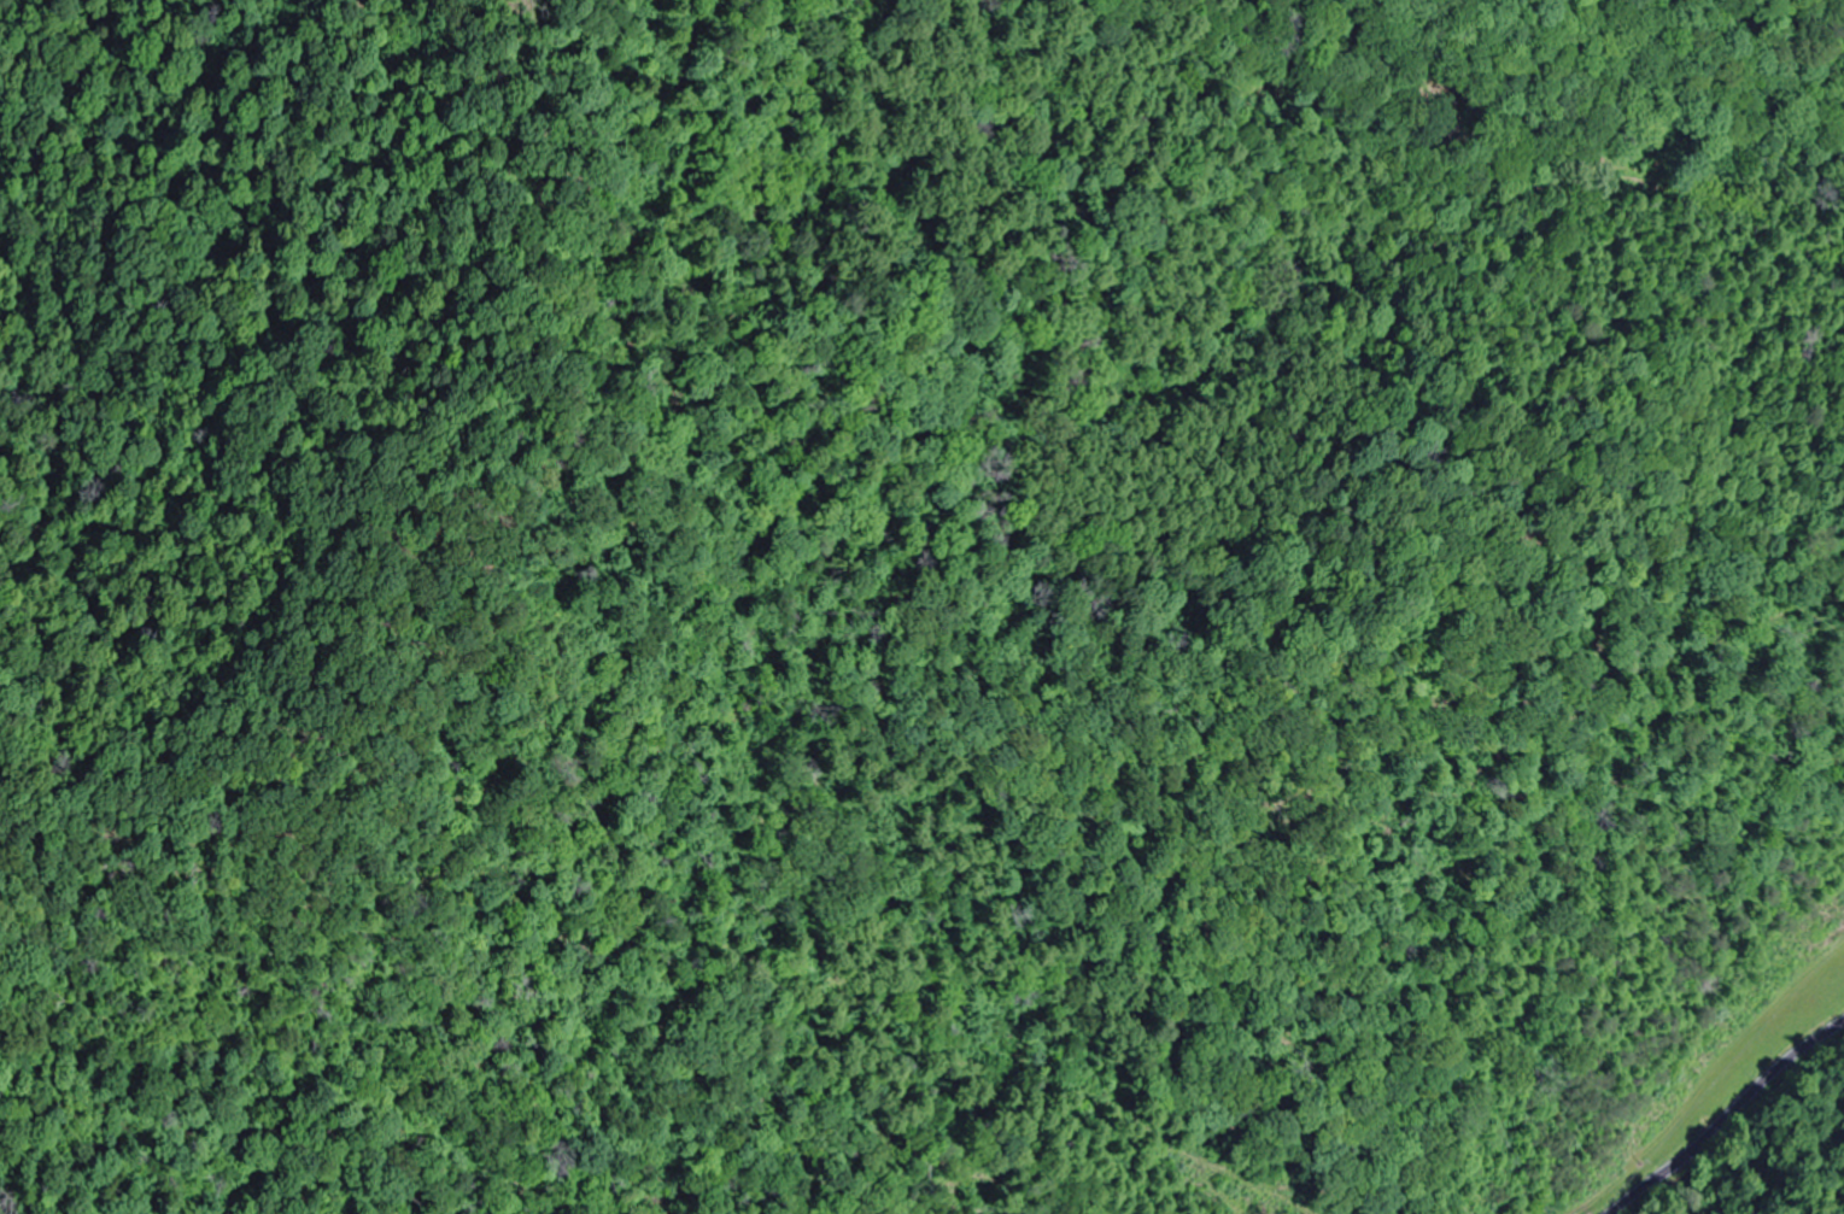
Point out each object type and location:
road: (1727, 1118)

